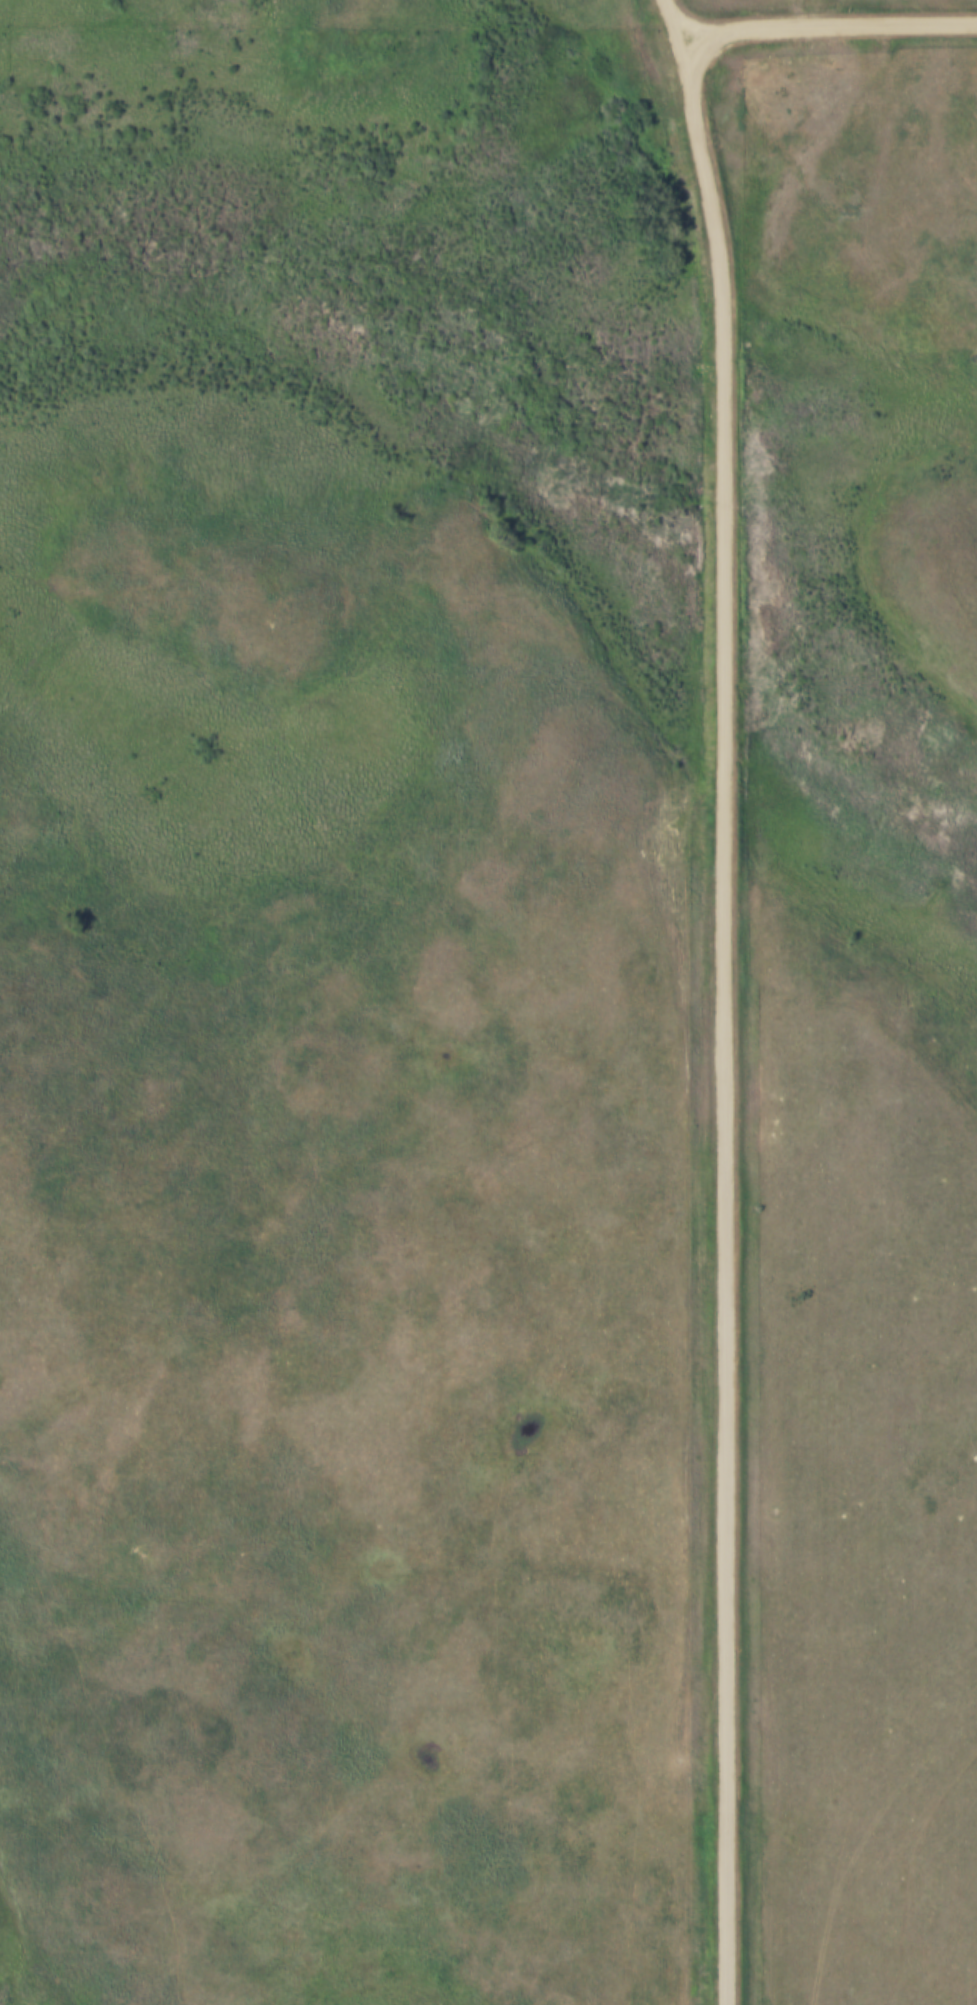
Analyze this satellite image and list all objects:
road: (826, 19)
road: (726, 999)

